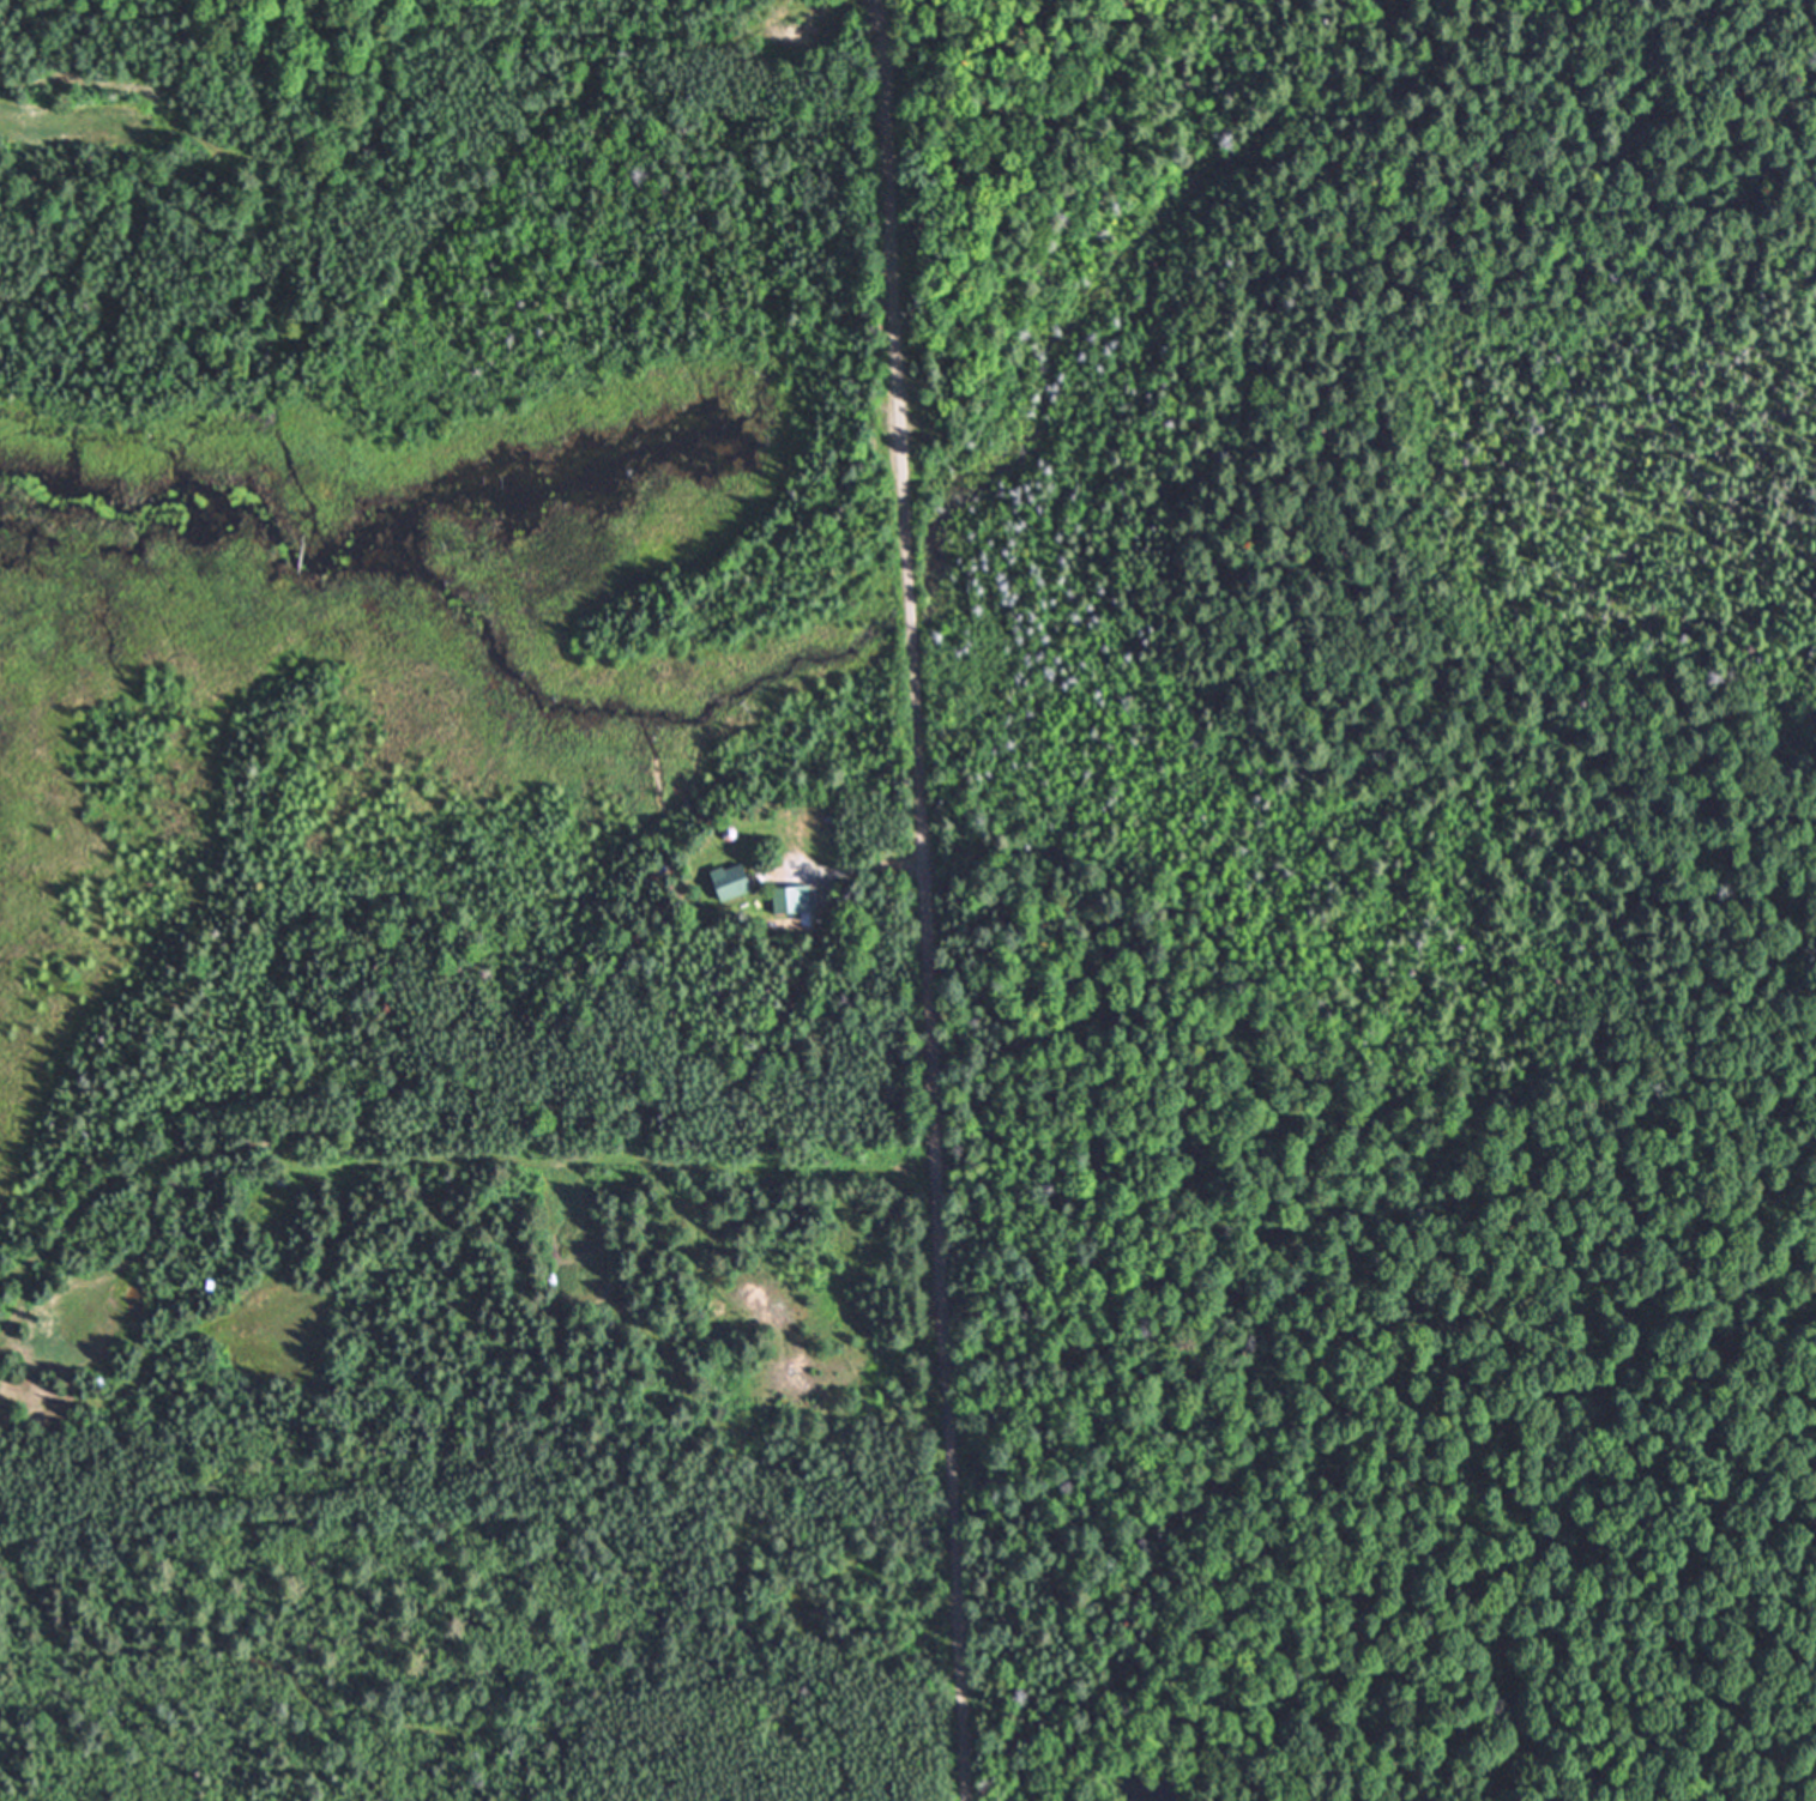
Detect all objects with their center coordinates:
road: (863, 866)
building: (736, 880)
building: (792, 899)
road: (921, 900)

